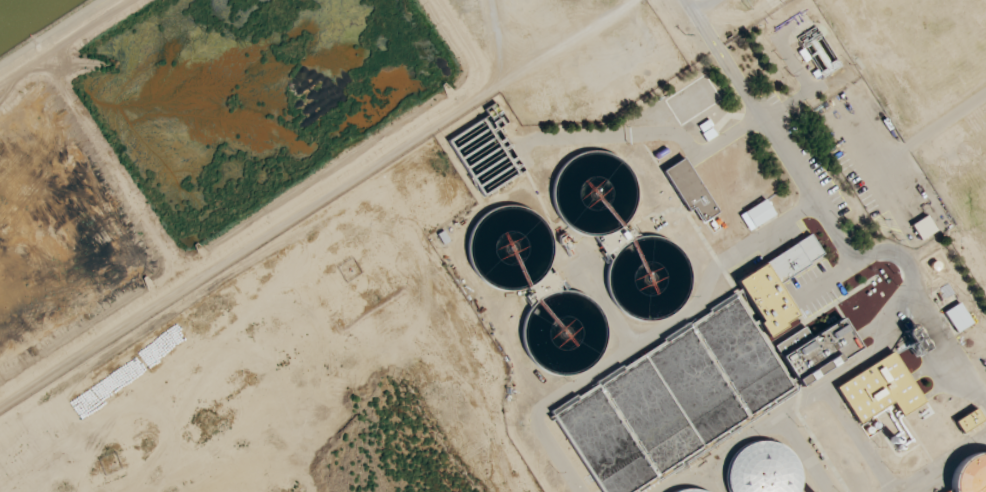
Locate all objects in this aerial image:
road: (694, 2)
building: (820, 52)
road: (854, 95)
road: (935, 125)
building: (689, 188)
building: (757, 213)
road: (830, 226)
building: (923, 226)
road: (770, 231)
road: (825, 278)
wastewater plant: (721, 287)
building: (958, 316)
building: (703, 379)
building: (879, 388)
building: (969, 419)
building: (762, 467)
building: (970, 473)
building: (693, 490)

